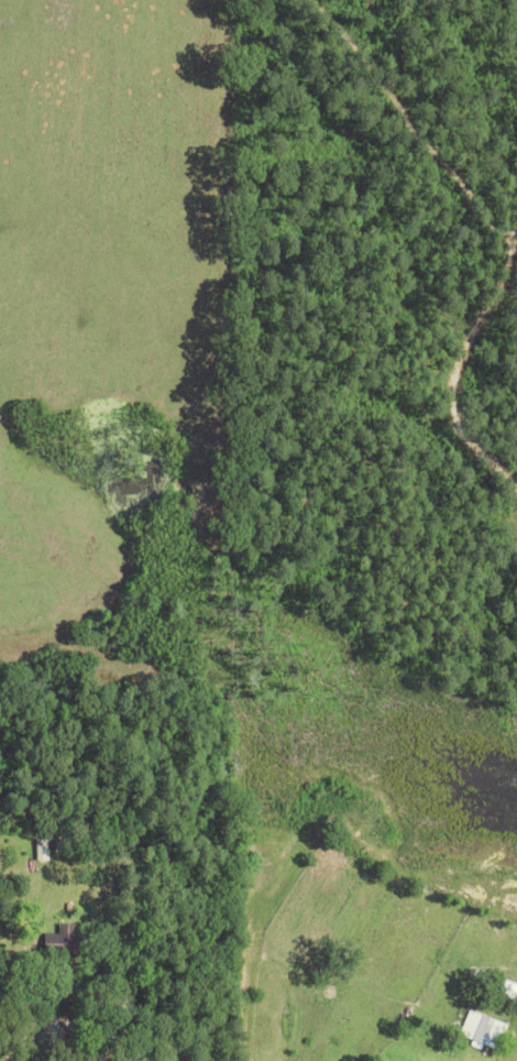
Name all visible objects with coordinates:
building: (42, 850)
building: (69, 939)
building: (485, 1028)

